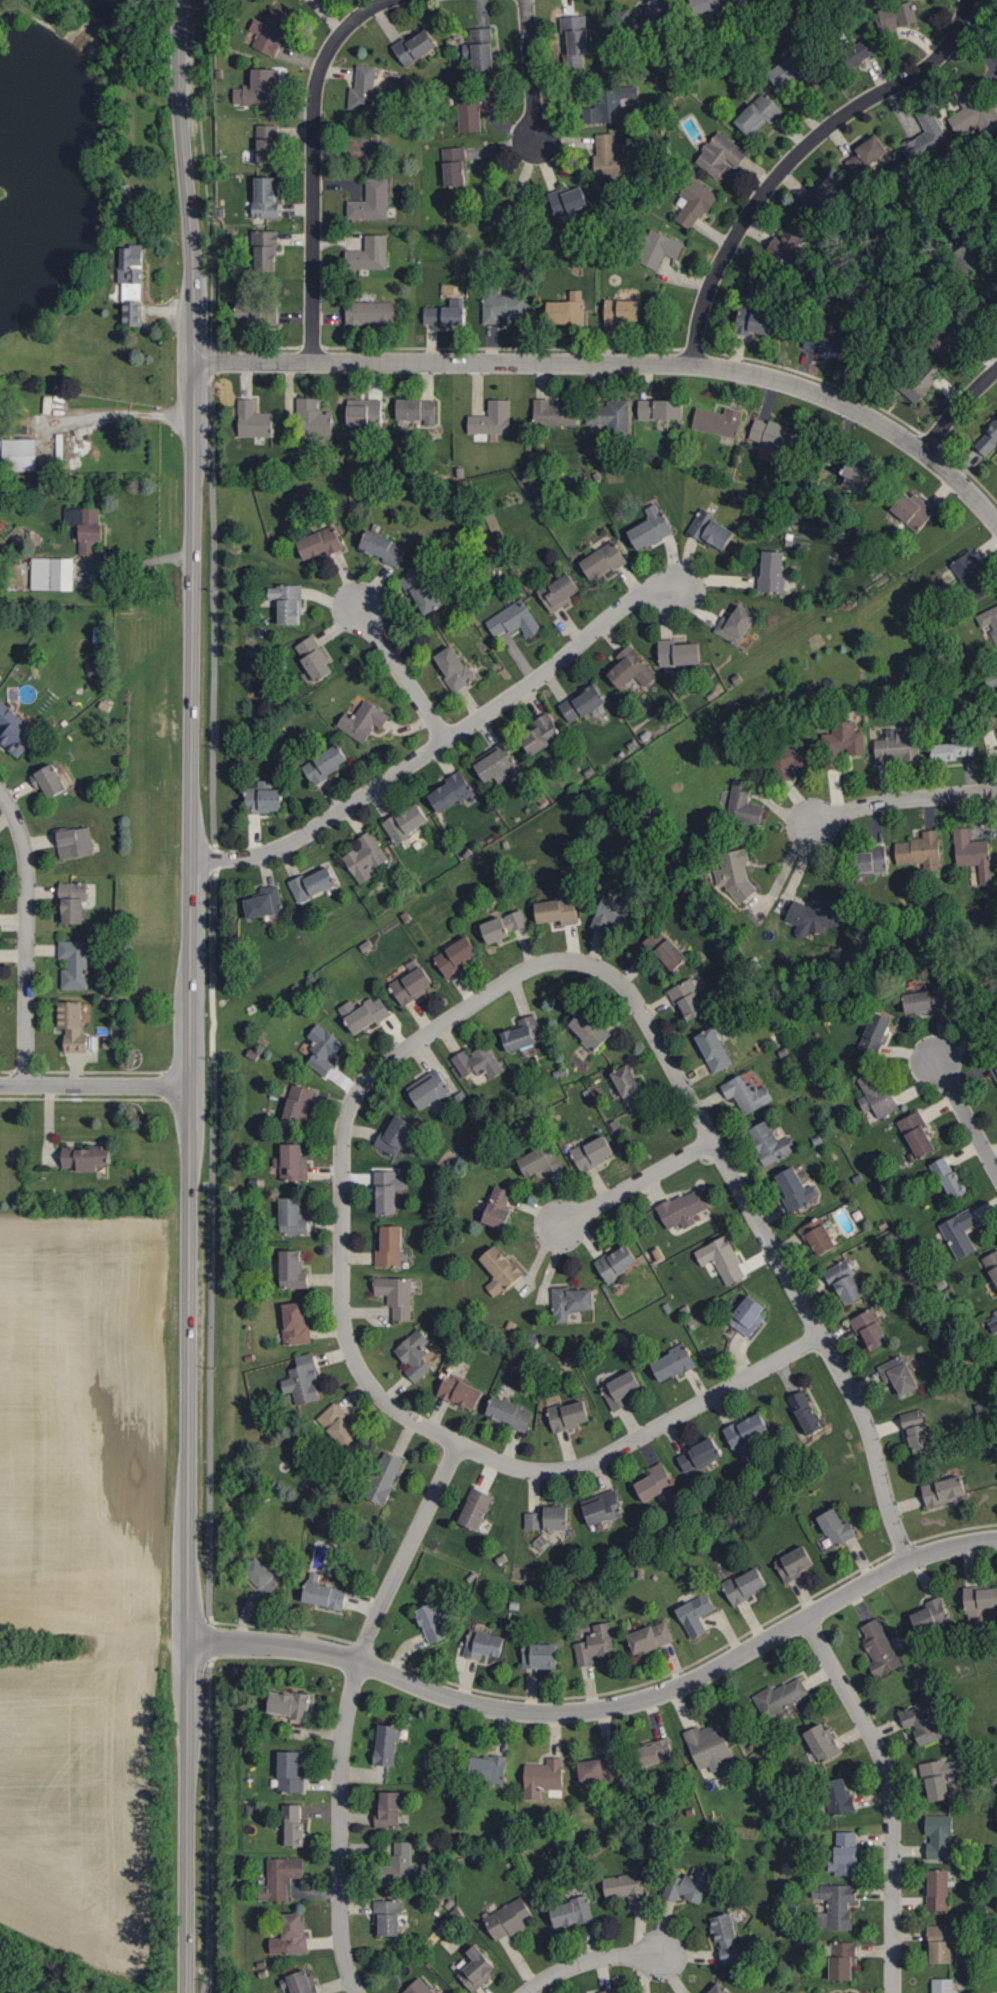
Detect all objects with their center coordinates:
building: (701, 4)
building: (900, 22)
road: (978, 29)
building: (272, 32)
building: (577, 32)
building: (417, 47)
building: (483, 49)
road: (531, 70)
building: (365, 89)
building: (260, 90)
building: (470, 115)
building: (760, 115)
building: (973, 117)
building: (931, 130)
building: (270, 144)
building: (875, 150)
road: (796, 155)
building: (723, 156)
building: (611, 157)
road: (313, 164)
road: (185, 165)
building: (457, 167)
road: (203, 181)
building: (268, 198)
building: (571, 200)
building: (373, 201)
building: (696, 205)
building: (782, 244)
building: (665, 249)
building: (268, 251)
building: (371, 254)
building: (133, 283)
building: (506, 305)
building: (569, 308)
building: (625, 309)
building: (372, 311)
building: (449, 312)
building: (765, 318)
road: (193, 347)
road: (619, 364)
building: (918, 389)
road: (193, 403)
building: (661, 408)
building: (416, 409)
road: (957, 409)
building: (365, 411)
road: (121, 412)
building: (555, 413)
building: (610, 414)
building: (311, 416)
building: (492, 418)
building: (253, 419)
building: (718, 421)
building: (772, 433)
building: (987, 437)
building: (765, 452)
building: (20, 454)
building: (857, 473)
building: (912, 510)
building: (86, 521)
building: (651, 527)
building: (711, 529)
building: (321, 542)
building: (88, 547)
building: (383, 547)
building: (603, 560)
building: (772, 570)
building: (53, 573)
building: (971, 574)
building: (421, 591)
building: (559, 592)
building: (288, 602)
building: (513, 619)
building: (736, 624)
road: (192, 652)
building: (678, 652)
building: (314, 658)
building: (454, 667)
building: (631, 668)
road: (402, 670)
building: (996, 670)
building: (582, 702)
building: (363, 720)
building: (15, 730)
building: (541, 733)
road: (442, 741)
building: (842, 743)
building: (991, 746)
building: (899, 747)
building: (951, 750)
building: (789, 759)
building: (325, 762)
building: (495, 762)
building: (48, 780)
building: (450, 791)
building: (264, 800)
road: (902, 800)
building: (744, 804)
building: (406, 822)
building: (75, 842)
building: (920, 850)
building: (973, 853)
building: (366, 856)
building: (872, 859)
building: (735, 873)
building: (311, 883)
building: (73, 901)
building: (264, 902)
building: (557, 910)
building: (614, 913)
building: (814, 916)
building: (504, 926)
road: (191, 929)
road: (27, 937)
building: (665, 949)
building: (457, 956)
building: (75, 964)
building: (412, 984)
building: (688, 999)
building: (925, 1000)
building: (364, 1013)
building: (73, 1026)
building: (589, 1030)
building: (523, 1033)
building: (875, 1033)
building: (319, 1035)
road: (191, 1042)
building: (714, 1049)
building: (478, 1062)
building: (996, 1069)
building: (629, 1086)
road: (95, 1087)
building: (429, 1088)
building: (746, 1093)
building: (876, 1093)
building: (299, 1105)
road: (191, 1107)
road: (966, 1117)
building: (917, 1133)
building: (395, 1135)
building: (770, 1142)
building: (593, 1152)
building: (86, 1158)
building: (294, 1162)
building: (541, 1162)
building: (949, 1177)
road: (211, 1178)
road: (636, 1185)
building: (796, 1189)
building: (388, 1191)
building: (499, 1206)
building: (683, 1208)
building: (292, 1216)
building: (960, 1232)
building: (818, 1236)
road: (770, 1244)
building: (390, 1246)
road: (542, 1258)
building: (722, 1259)
building: (617, 1262)
road: (553, 1263)
building: (292, 1269)
building: (500, 1269)
building: (845, 1282)
building: (396, 1294)
building: (571, 1301)
building: (996, 1311)
building: (748, 1314)
building: (296, 1322)
building: (870, 1329)
road: (189, 1338)
building: (414, 1354)
road: (355, 1359)
building: (673, 1363)
building: (899, 1374)
building: (303, 1379)
building: (621, 1389)
building: (461, 1391)
building: (805, 1412)
building: (509, 1413)
building: (569, 1415)
building: (339, 1426)
building: (917, 1431)
building: (747, 1434)
building: (698, 1454)
building: (384, 1477)
building: (655, 1482)
building: (943, 1490)
building: (602, 1507)
building: (475, 1508)
building: (548, 1518)
building: (836, 1527)
building: (793, 1564)
building: (261, 1577)
building: (745, 1584)
building: (324, 1593)
road: (188, 1597)
building: (979, 1600)
building: (695, 1614)
building: (931, 1615)
building: (431, 1622)
building: (650, 1637)
building: (483, 1644)
building: (595, 1644)
building: (880, 1648)
building: (544, 1655)
road: (189, 1682)
building: (780, 1696)
building: (289, 1703)
road: (348, 1708)
road: (606, 1708)
building: (923, 1724)
building: (823, 1742)
building: (386, 1744)
building: (710, 1747)
building: (655, 1750)
building: (488, 1768)
building: (600, 1768)
building: (290, 1772)
building: (941, 1776)
building: (543, 1777)
building: (994, 1784)
building: (839, 1795)
road: (891, 1795)
building: (389, 1809)
building: (294, 1825)
building: (939, 1836)
building: (845, 1854)
road: (189, 1856)
building: (399, 1863)
building: (280, 1877)
building: (688, 1885)
building: (626, 1887)
building: (938, 1889)
building: (835, 1905)
building: (572, 1911)
building: (388, 1916)
building: (509, 1918)
building: (291, 1934)
building: (726, 1937)
building: (940, 1943)
building: (842, 1959)
road: (591, 1961)
building: (477, 1969)
building: (302, 1982)
building: (943, 1985)
building: (418, 1987)
building: (719, 1988)
building: (608, 1991)

